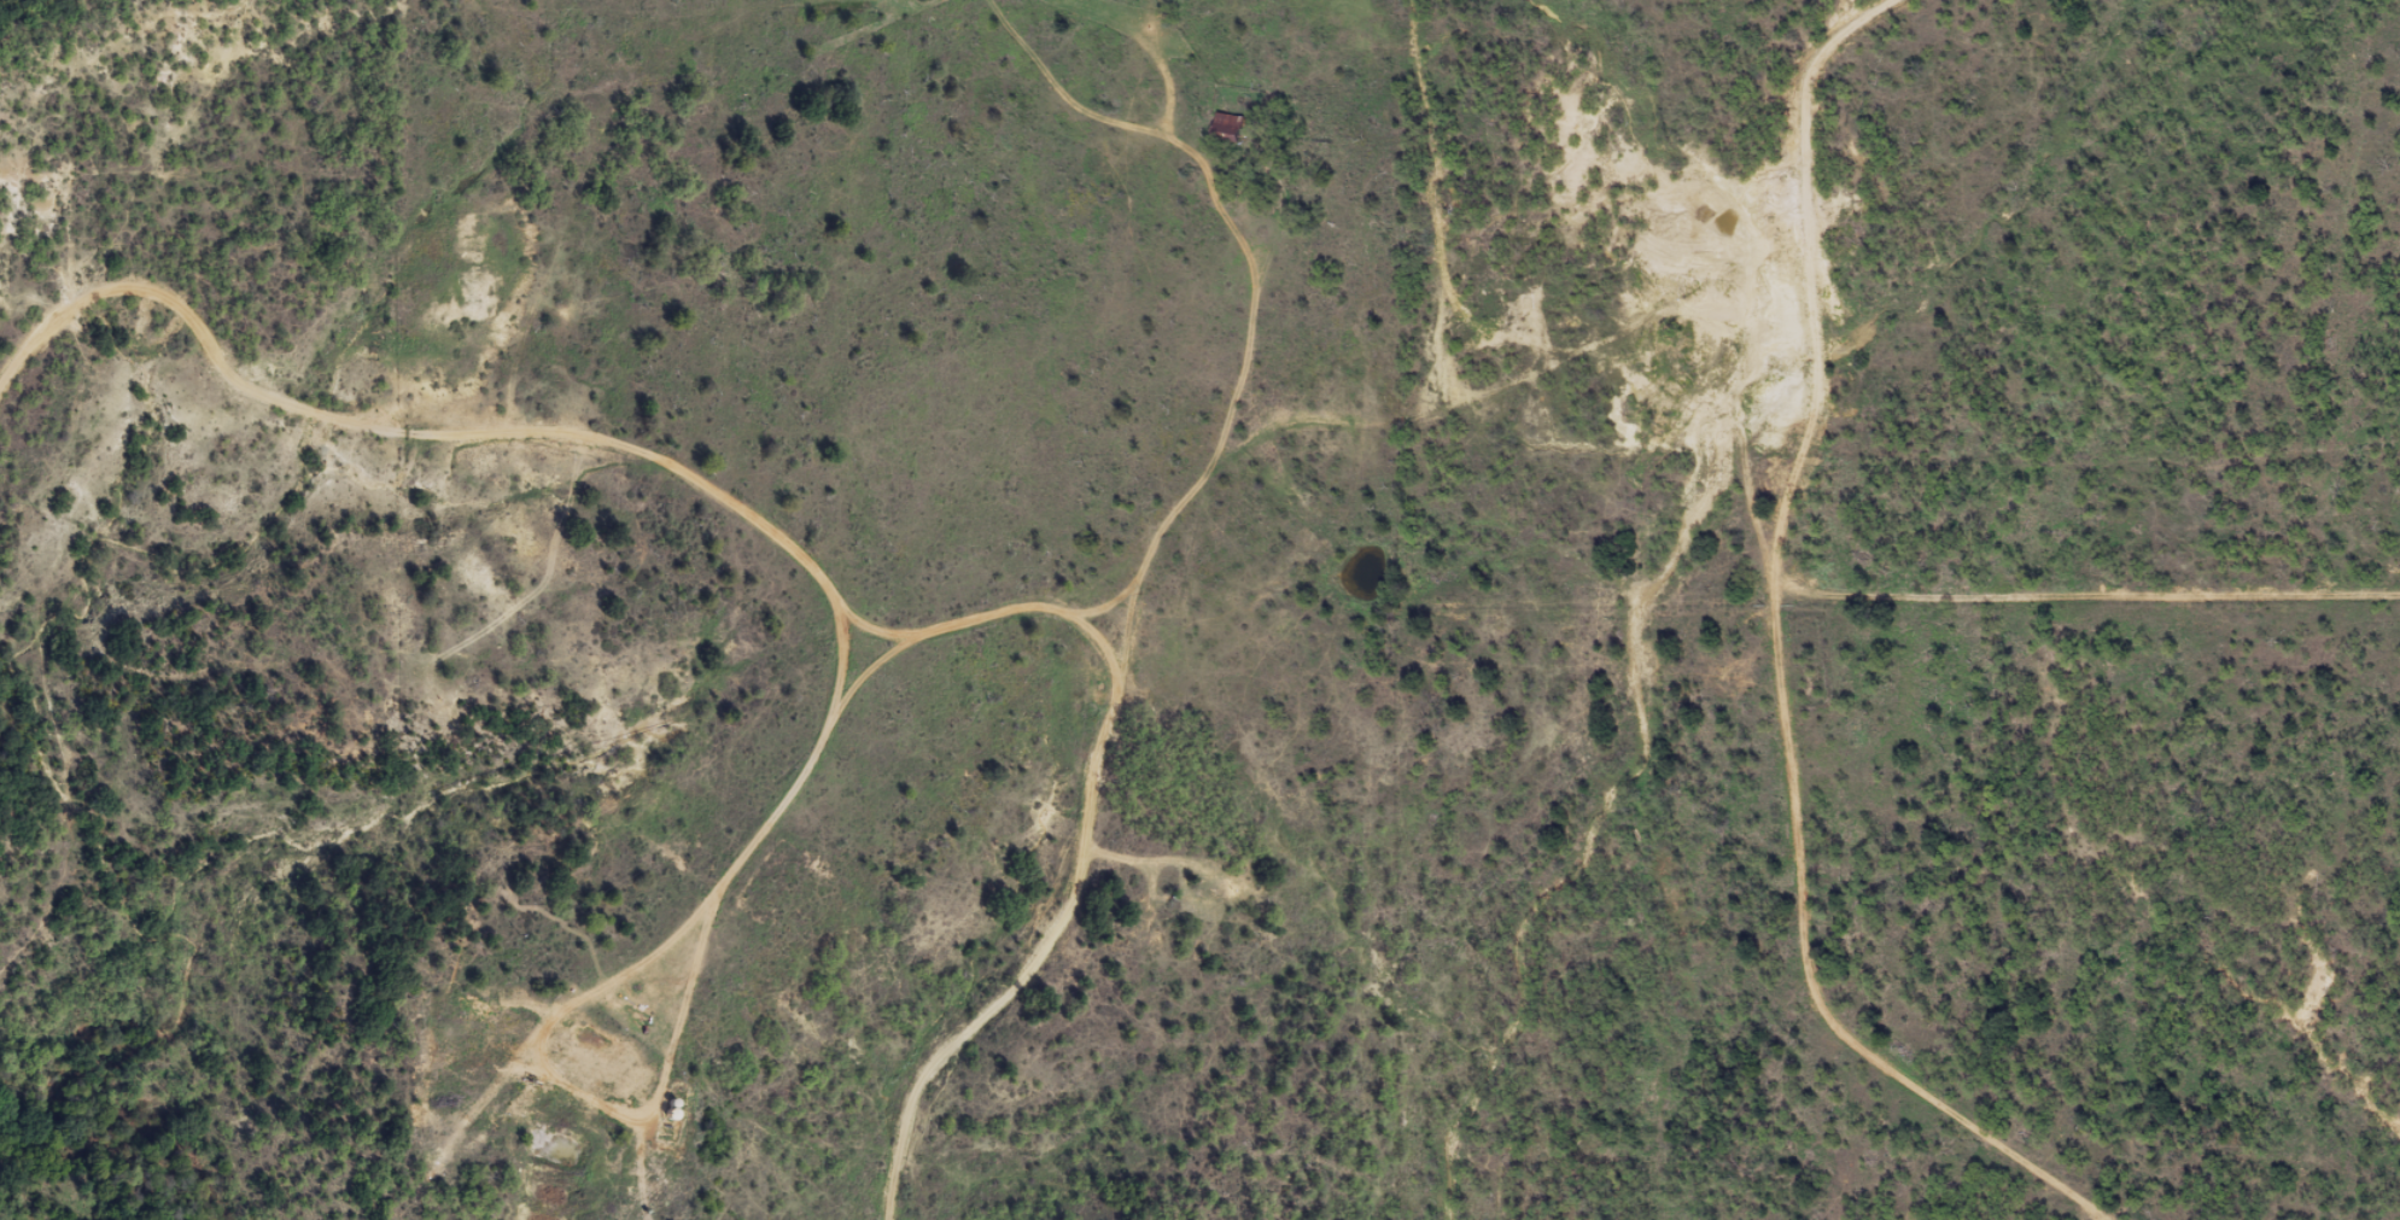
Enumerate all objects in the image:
road: (1157, 577)
road: (1116, 677)
road: (737, 860)
road: (1061, 947)
road: (2074, 1018)
road: (1658, 1105)

